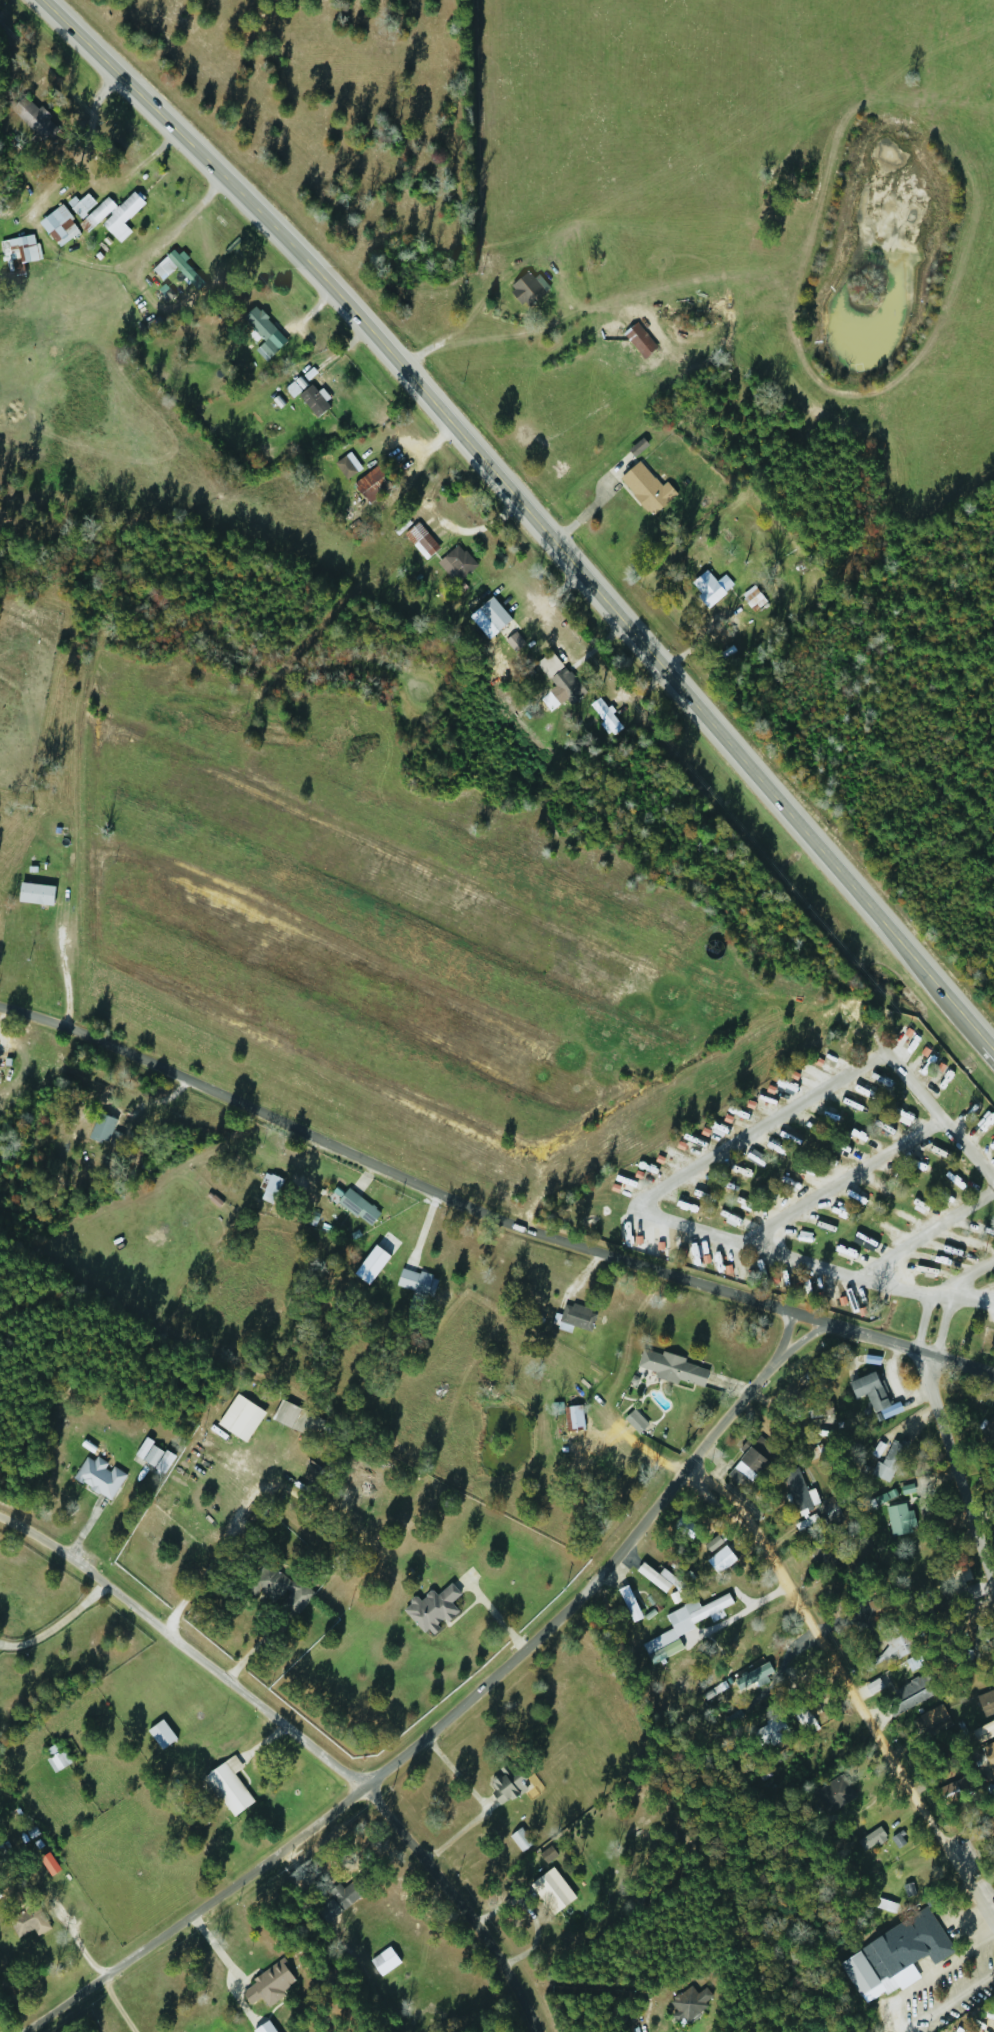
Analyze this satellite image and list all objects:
building: (33, 119)
building: (78, 205)
building: (113, 216)
building: (57, 226)
building: (17, 251)
building: (176, 269)
building: (524, 291)
building: (262, 333)
building: (637, 341)
building: (311, 401)
building: (343, 468)
building: (373, 483)
building: (645, 489)
road: (531, 514)
building: (419, 540)
building: (457, 562)
building: (707, 587)
building: (751, 599)
building: (494, 617)
building: (512, 642)
building: (559, 677)
building: (604, 716)
building: (103, 1130)
road: (674, 1178)
road: (839, 1180)
building: (268, 1189)
road: (491, 1201)
building: (356, 1207)
road: (924, 1232)
building: (414, 1282)
road: (938, 1289)
building: (575, 1316)
road: (941, 1324)
building: (670, 1368)
building: (868, 1391)
building: (239, 1417)
building: (295, 1418)
building: (570, 1423)
building: (988, 1429)
building: (893, 1452)
building: (152, 1456)
building: (748, 1461)
building: (880, 1471)
road: (944, 1473)
building: (97, 1476)
building: (799, 1501)
building: (898, 1519)
building: (820, 1554)
building: (957, 1572)
building: (651, 1577)
building: (273, 1584)
building: (627, 1604)
building: (680, 1627)
building: (721, 1638)
building: (758, 1638)
building: (975, 1646)
road: (181, 1650)
building: (751, 1679)
road: (845, 1685)
building: (910, 1694)
building: (985, 1703)
road: (439, 1718)
building: (931, 1721)
building: (769, 1731)
building: (983, 1732)
building: (159, 1735)
building: (989, 1756)
building: (55, 1758)
building: (506, 1784)
building: (226, 1789)
building: (948, 1793)
building: (832, 1794)
building: (988, 1829)
building: (869, 1839)
building: (519, 1840)
building: (348, 1891)
building: (550, 1891)
road: (447, 1909)
building: (27, 1922)
building: (893, 1956)
building: (382, 1962)
building: (687, 2004)

